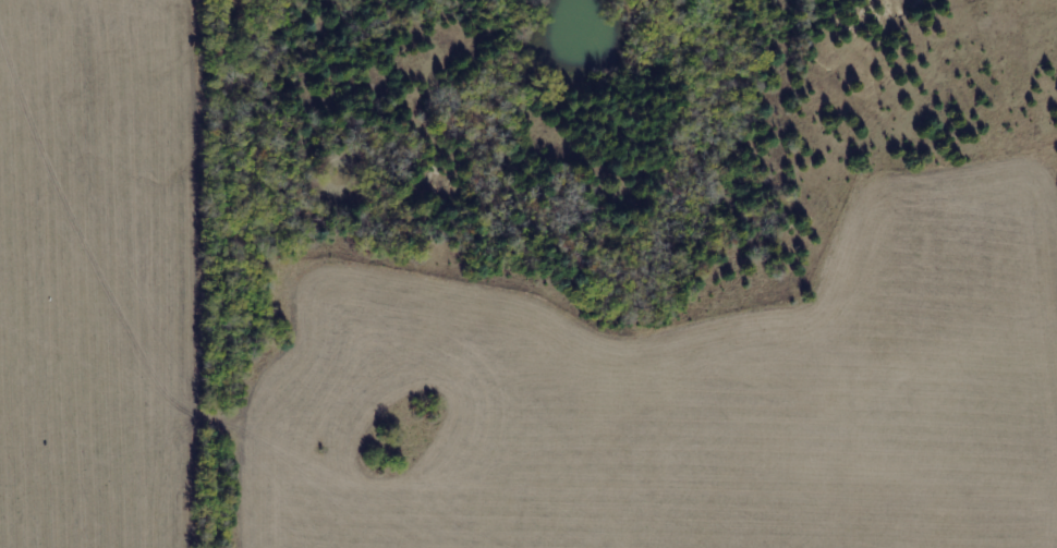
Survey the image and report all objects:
road: (230, 273)

